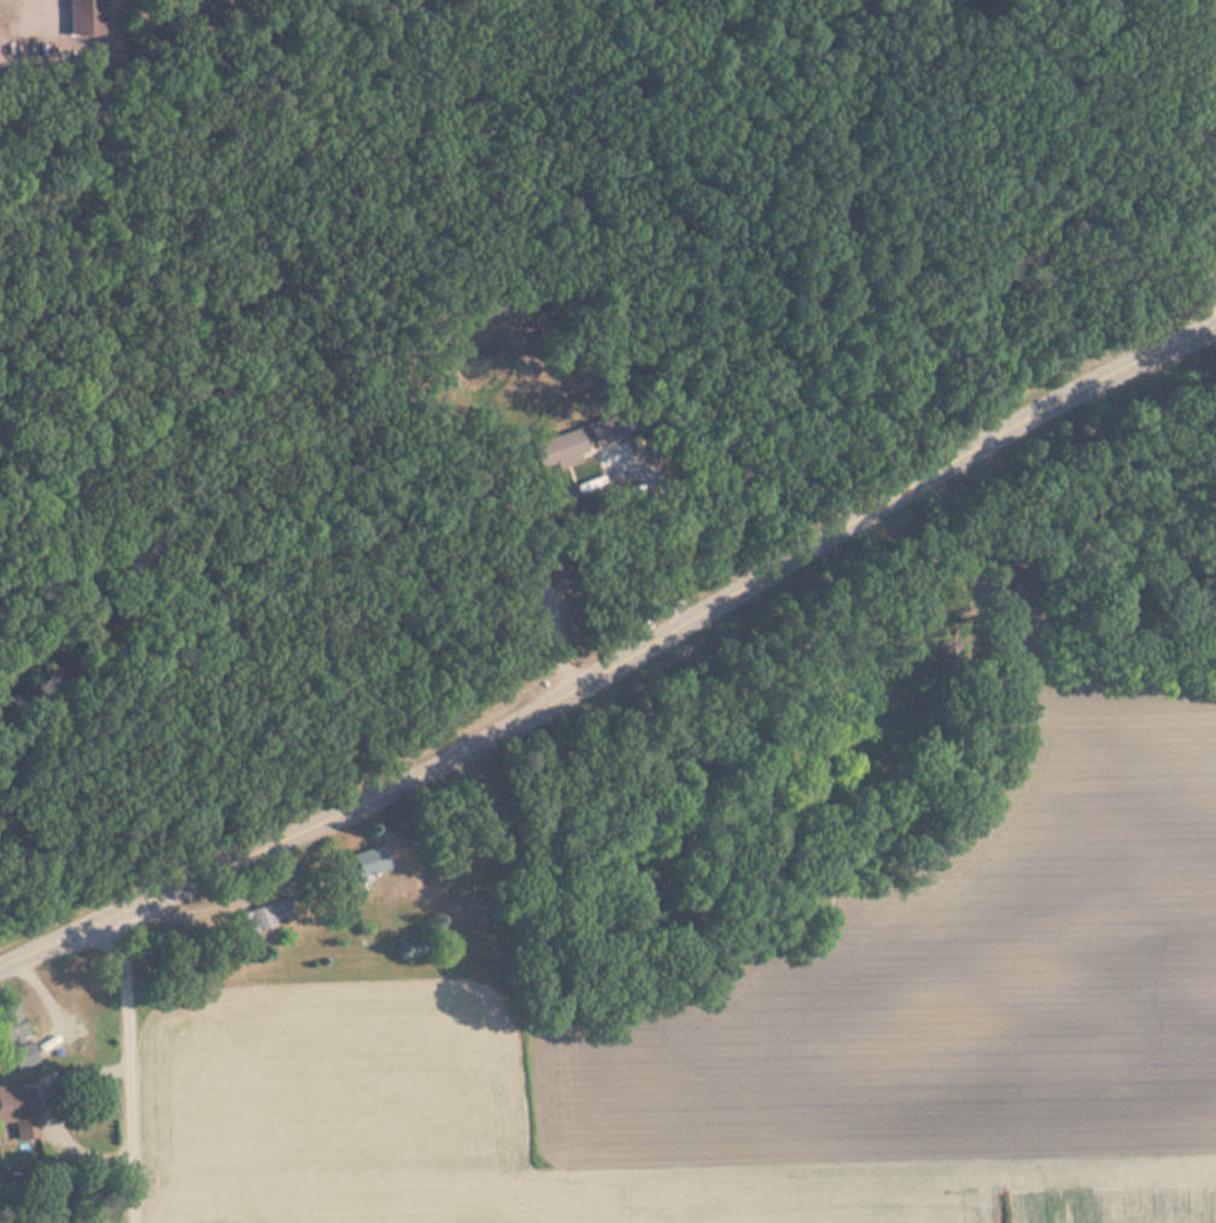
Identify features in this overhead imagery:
building: (86, 18)
road: (618, 663)
building: (367, 866)
building: (263, 918)
building: (16, 1035)
road: (128, 1069)
building: (16, 1104)

